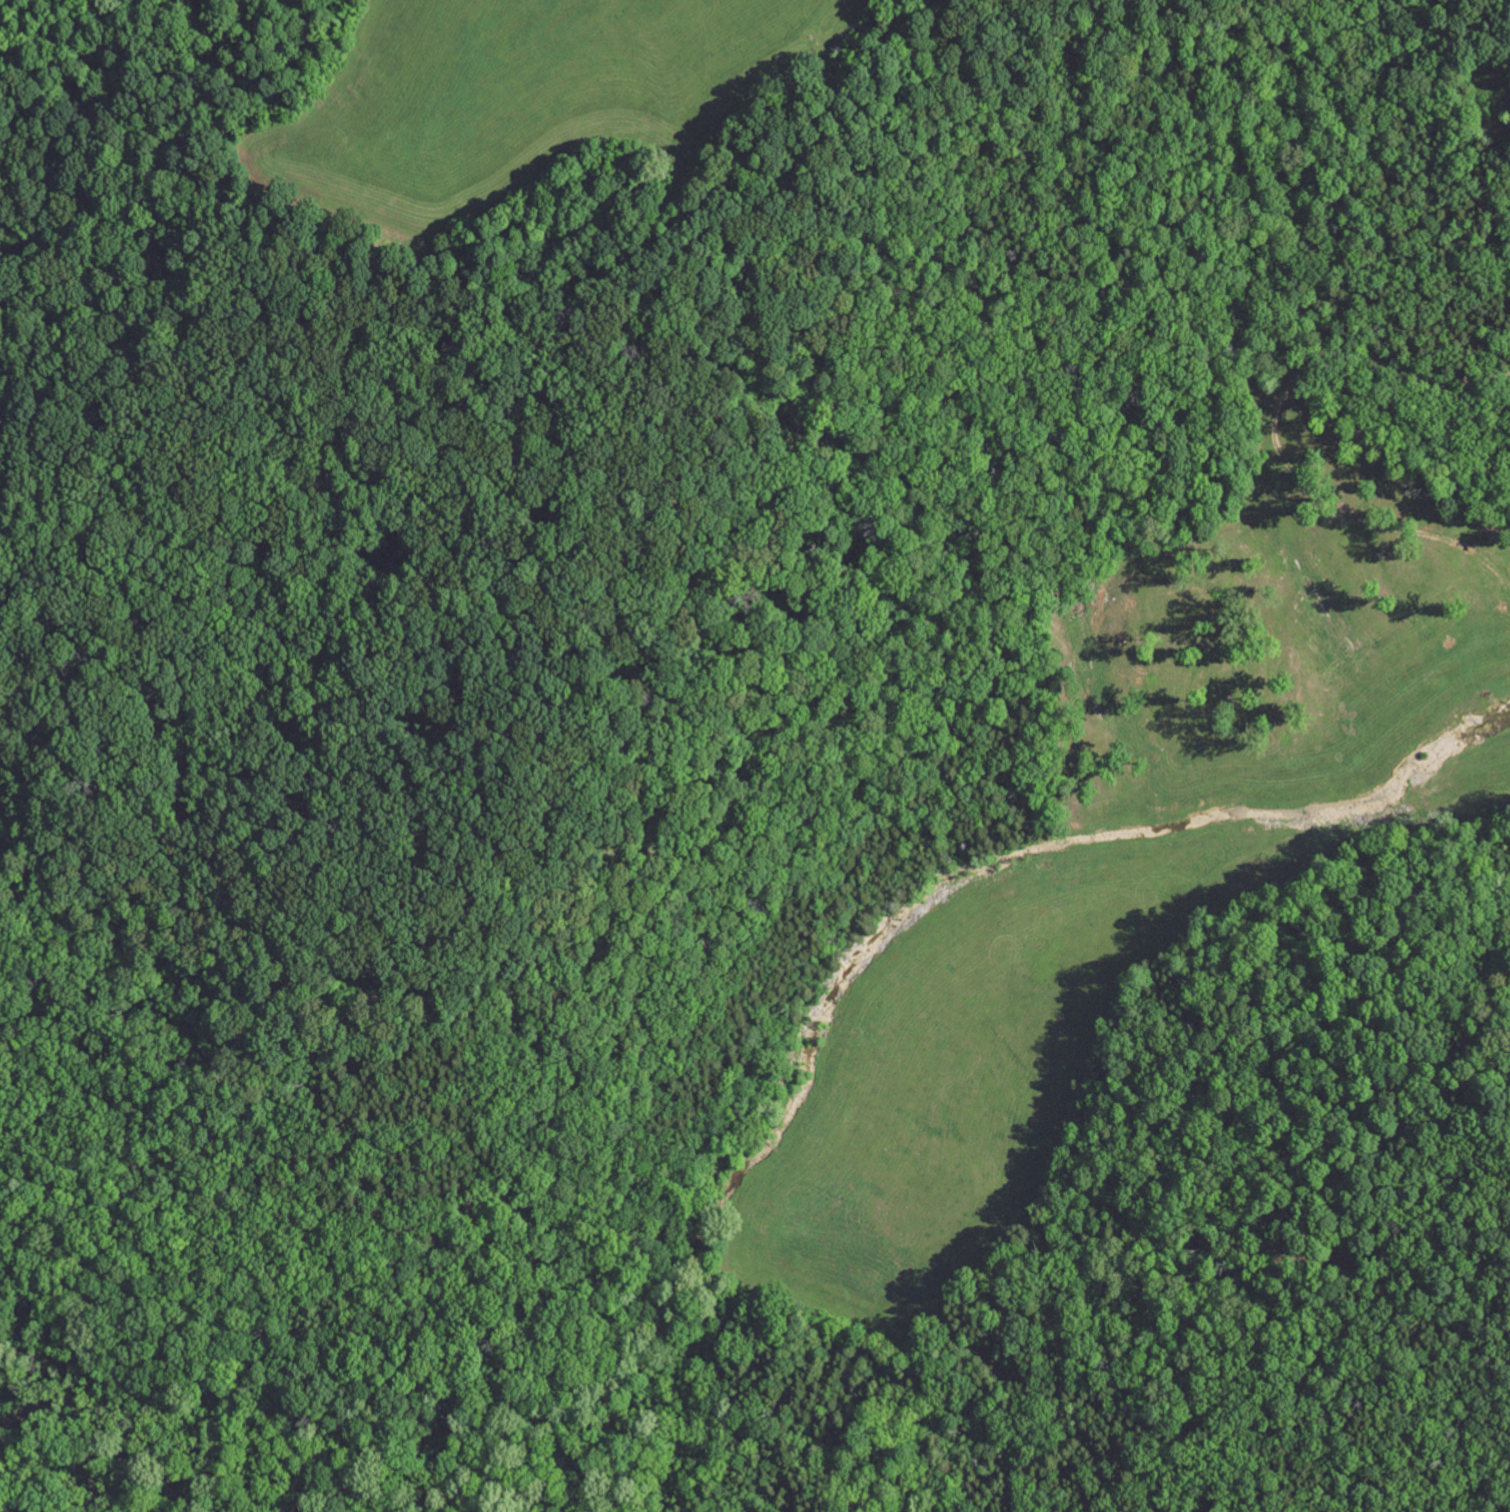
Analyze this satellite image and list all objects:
road: (294, 77)

